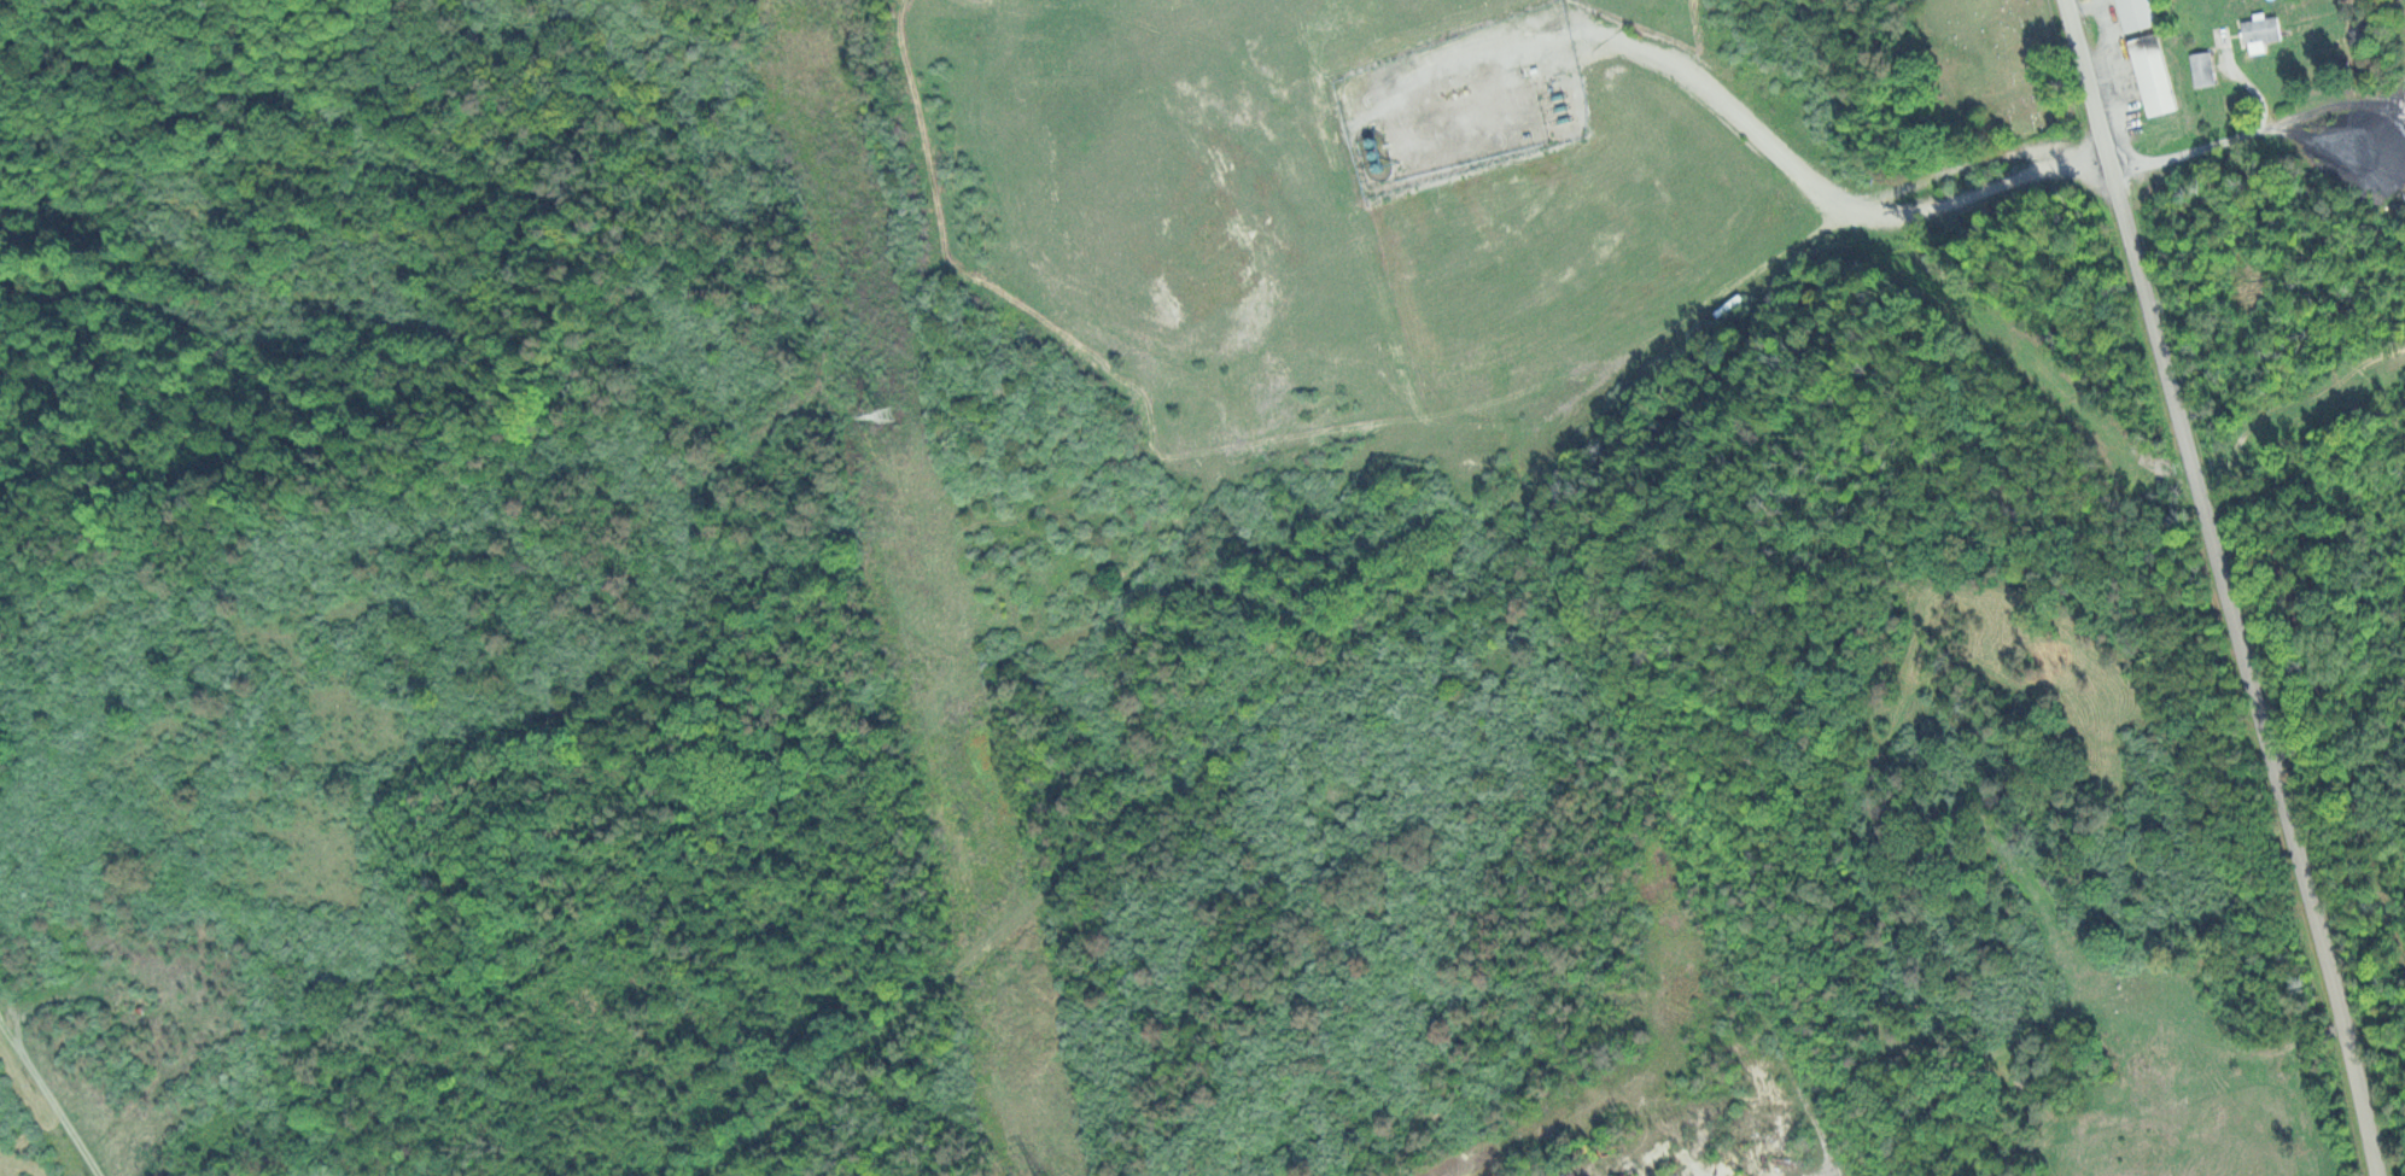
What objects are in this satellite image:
building: (2135, 14)
building: (2260, 29)
building: (2201, 69)
building: (2152, 75)
road: (2253, 116)
power tower: (885, 431)
road: (2223, 586)
road: (1379, 620)
power tower: (932, 657)

